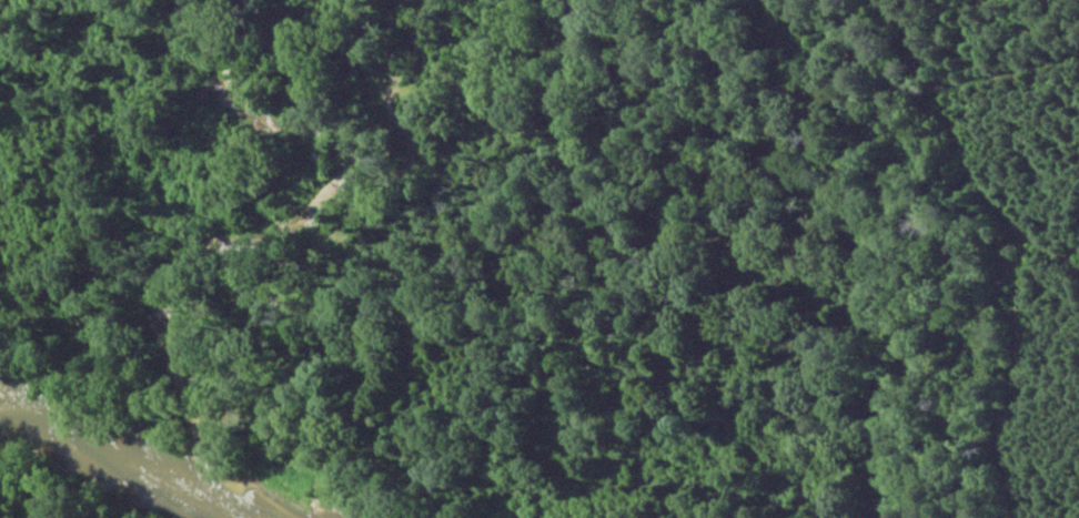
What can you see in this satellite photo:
road: (955, 165)

